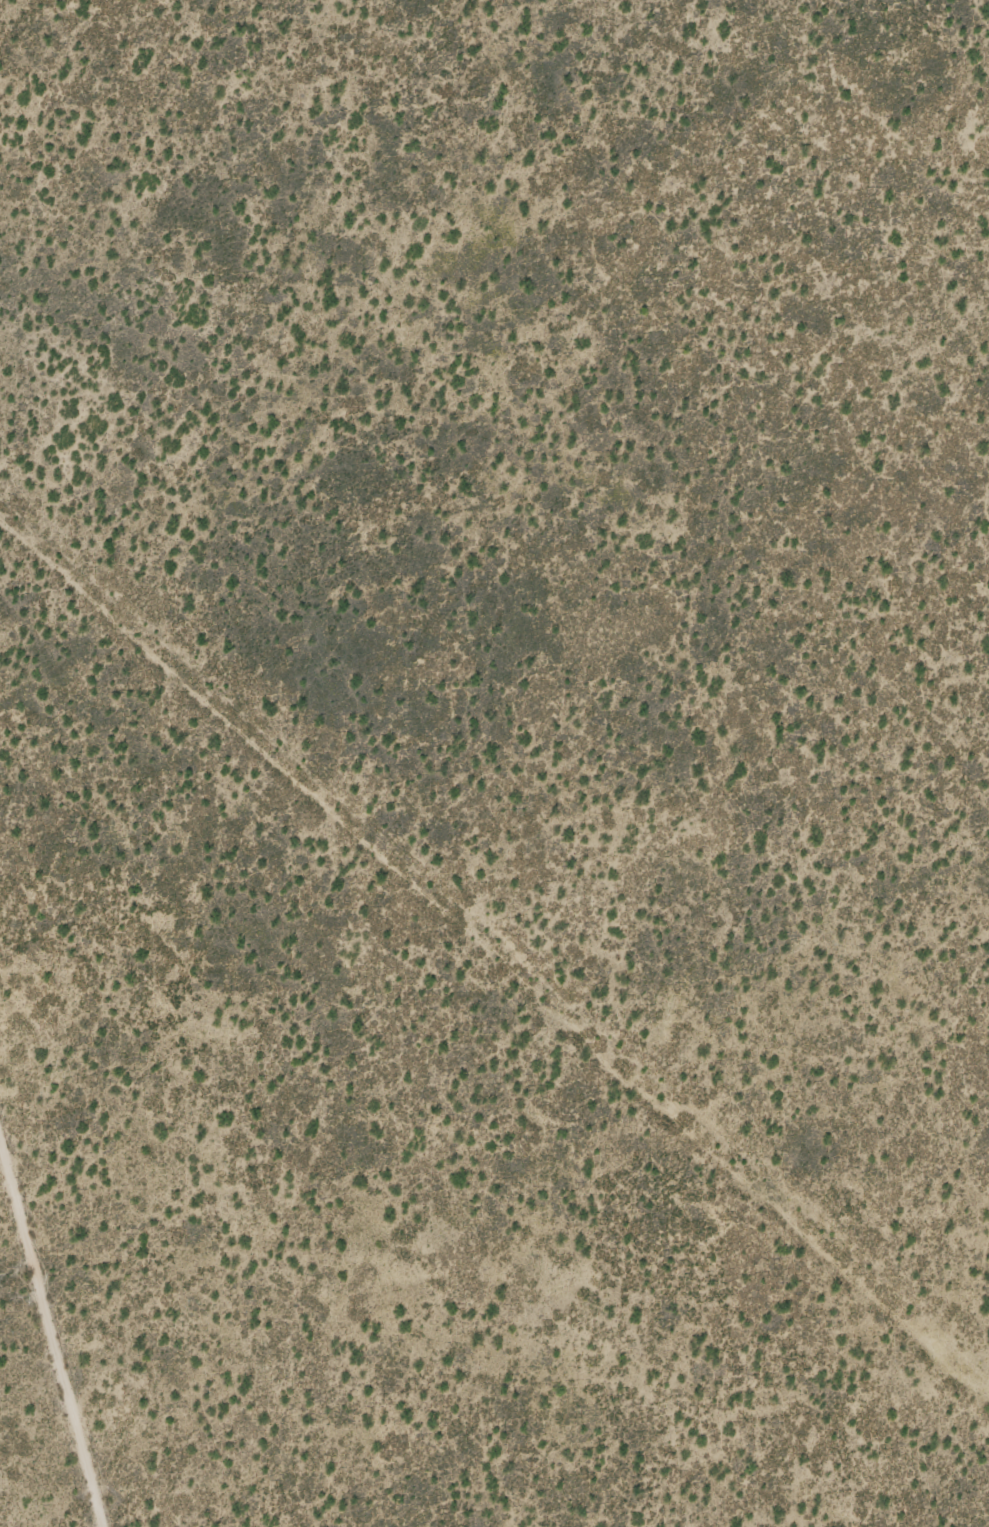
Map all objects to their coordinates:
road: (46, 1353)

